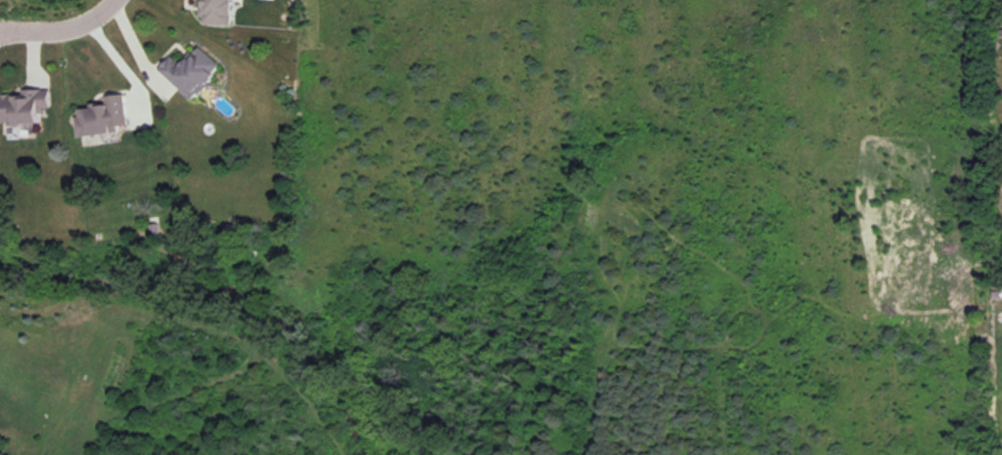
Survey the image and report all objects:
building: (218, 12)
road: (56, 25)
building: (194, 72)
building: (28, 106)
building: (105, 117)
crop: (668, 195)

